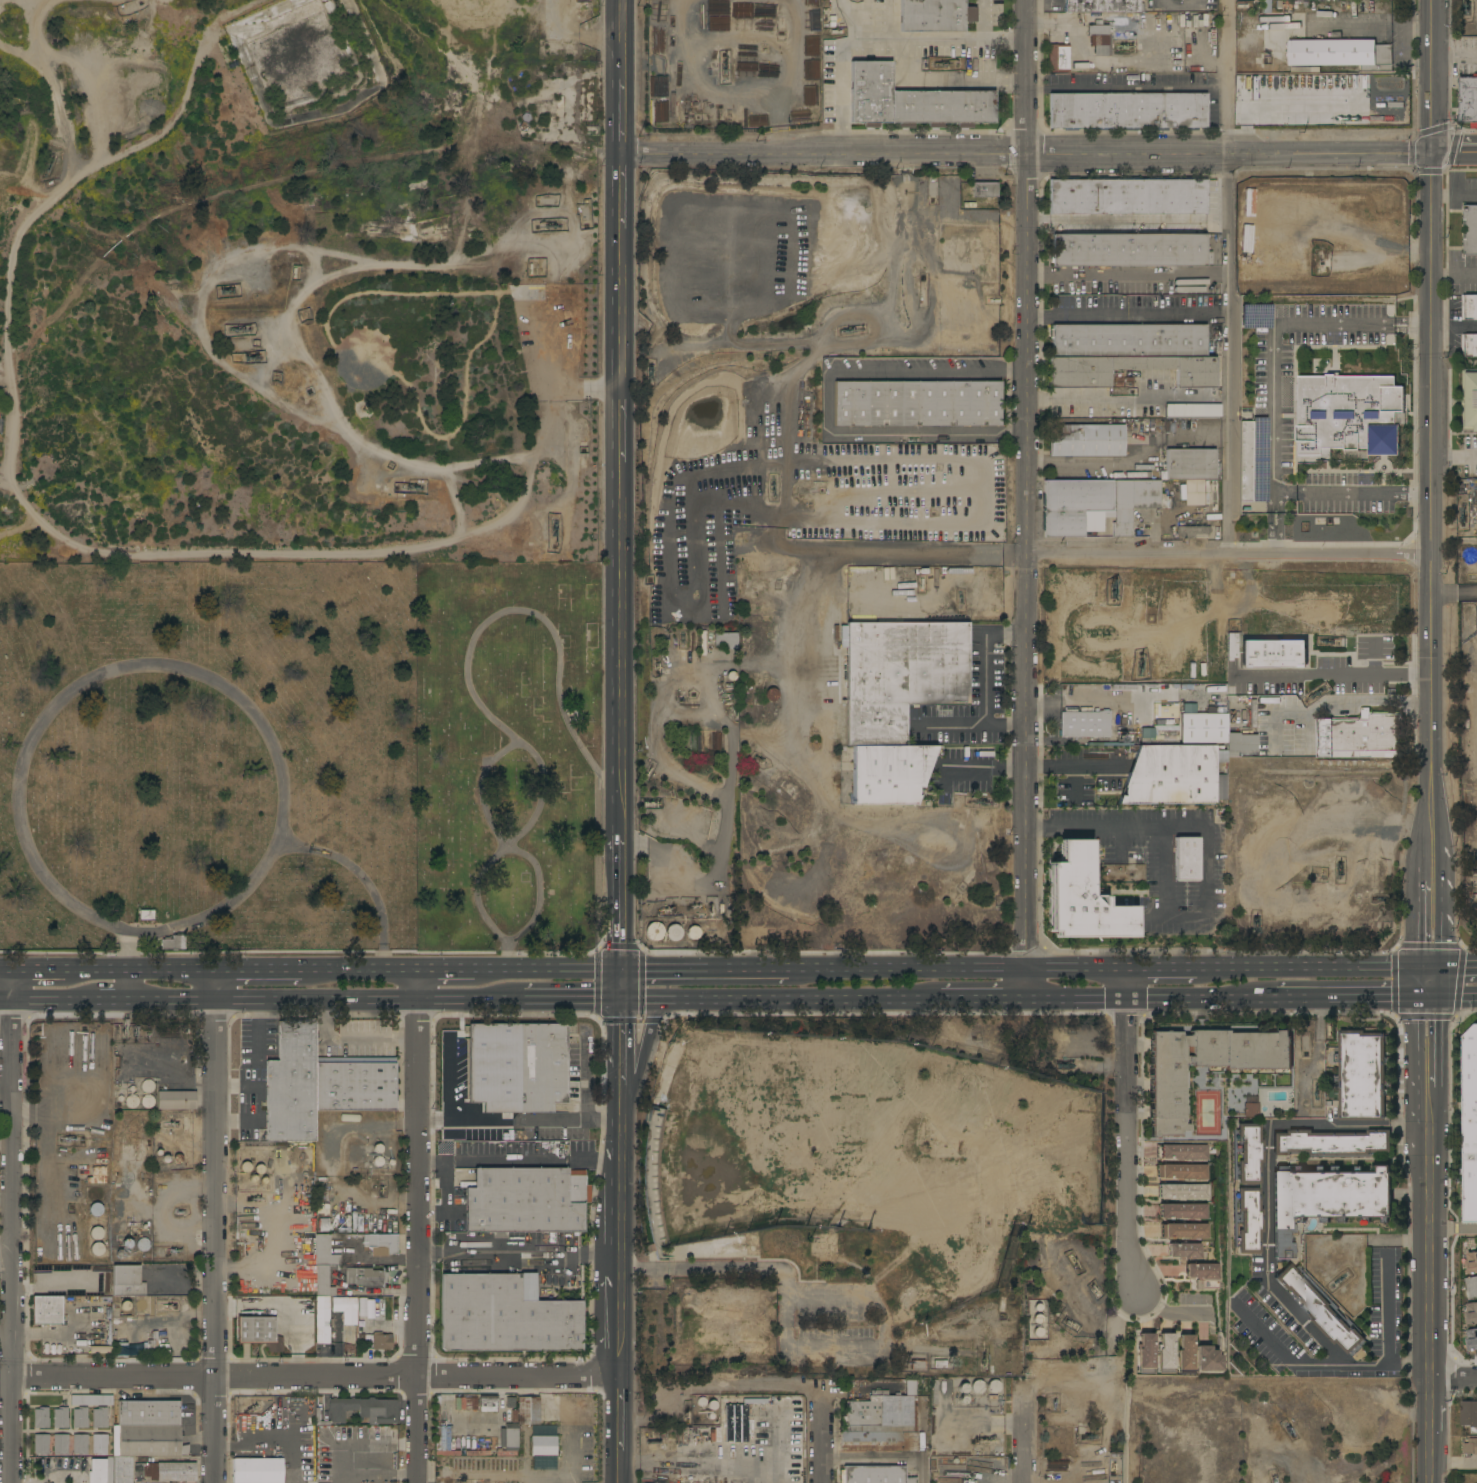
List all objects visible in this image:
building: (1103, 6)
building: (935, 15)
road: (890, 21)
road: (985, 22)
road: (1370, 25)
building: (1099, 38)
road: (624, 39)
road: (939, 42)
petroleum well: (1121, 46)
building: (1340, 54)
road: (1455, 56)
building: (1058, 58)
petroleum well: (723, 61)
petroleum well: (943, 61)
road: (839, 72)
building: (85, 73)
building: (143, 74)
building: (106, 75)
road: (950, 83)
building: (115, 97)
building: (138, 97)
building: (94, 99)
building: (1468, 101)
building: (912, 102)
building: (1128, 111)
road: (624, 118)
traffic signals: (1434, 155)
road: (1455, 155)
road: (1029, 156)
building: (566, 173)
petroleum well: (47, 175)
building: (985, 190)
road: (624, 196)
building: (1128, 196)
petroleum well: (554, 226)
building: (1470, 231)
building: (1128, 250)
road: (1130, 274)
road: (1230, 275)
petroleum well: (227, 290)
building: (1469, 307)
road: (623, 312)
road: (1129, 315)
road: (1413, 324)
road: (1455, 325)
petroleum well: (850, 328)
petroleum well: (239, 336)
parking lot: (543, 339)
building: (1469, 346)
road: (367, 353)
building: (1128, 353)
park: (454, 355)
petroleum well: (250, 358)
road: (1273, 358)
road: (399, 361)
road: (555, 372)
petroleum well: (649, 372)
road: (826, 399)
building: (1470, 399)
building: (917, 404)
building: (1184, 411)
building: (1348, 414)
road: (1433, 422)
road: (622, 426)
building: (1086, 440)
road: (553, 451)
road: (1455, 454)
road: (1125, 460)
building: (1190, 464)
road: (5, 473)
building: (1132, 475)
petroleum well: (772, 487)
road: (1029, 487)
building: (1192, 490)
building: (1213, 493)
road: (1364, 493)
building: (1165, 499)
road: (457, 501)
building: (1241, 501)
building: (1132, 502)
road: (1274, 502)
building: (1075, 507)
petroleum well: (411, 511)
petroleum well: (558, 529)
building: (1193, 531)
road: (1274, 532)
road: (1331, 552)
road: (1129, 553)
park: (3, 585)
petroleum well: (1112, 588)
road: (537, 617)
petroleum well: (681, 639)
building: (719, 640)
building: (730, 641)
road: (620, 642)
building: (747, 644)
building: (1273, 655)
road: (986, 658)
petroleum well: (1142, 664)
road: (171, 667)
parking lot: (987, 667)
road: (1333, 672)
building: (901, 675)
building: (1192, 688)
building: (728, 691)
building: (771, 694)
storage tank: (771, 694)
road: (1351, 702)
road: (783, 722)
building: (1084, 724)
road: (978, 728)
building: (1204, 728)
building: (1172, 731)
road: (731, 734)
building: (1360, 736)
building: (1240, 744)
park: (207, 755)
park: (509, 756)
petroleum well: (757, 758)
road: (1050, 763)
parking lot: (966, 771)
petroleum well: (646, 772)
road: (990, 772)
building: (890, 773)
building: (1172, 775)
petroleum well: (650, 804)
road: (1394, 829)
road: (507, 842)
road: (1204, 846)
road: (496, 856)
building: (1186, 859)
parking lot: (1163, 861)
road: (1430, 862)
petroleum well: (1340, 870)
road: (366, 880)
road: (620, 899)
building: (1082, 899)
petroleum well: (697, 906)
petroleum well: (664, 909)
road: (1430, 912)
petroleum well: (710, 913)
building: (146, 915)
building: (654, 931)
storage tank: (654, 931)
building: (673, 932)
storage tank: (673, 932)
building: (694, 933)
storage tank: (694, 933)
building: (173, 942)
road: (133, 966)
road: (1429, 971)
road: (115, 973)
road: (272, 973)
road: (372, 973)
road: (1453, 973)
road: (6, 974)
road: (464, 974)
road: (565, 974)
road: (1077, 974)
road: (1278, 974)
traffic signals: (1429, 974)
traffic signals: (620, 975)
road: (714, 975)
road: (917, 975)
road: (620, 988)
road: (1026, 988)
road: (1127, 988)
road: (1453, 998)
traffic signals: (1430, 999)
road: (1344, 1000)
road: (462, 1001)
road: (563, 1001)
road: (1076, 1001)
road: (1193, 1001)
road: (54, 1002)
road: (115, 1002)
road: (275, 1002)
traffic signals: (620, 1002)
road: (768, 1002)
road: (971, 1002)
road: (5, 1003)
petroleum well: (135, 1030)
petroleum well: (123, 1031)
petroleum well: (146, 1031)
road: (354, 1038)
road: (620, 1044)
road: (642, 1044)
petroleum well: (1064, 1066)
building: (515, 1068)
road: (583, 1074)
road: (47, 1076)
building: (1361, 1076)
road: (256, 1079)
road: (448, 1080)
road: (237, 1084)
building: (319, 1084)
building: (148, 1085)
storage tank: (148, 1085)
petroleum well: (1316, 1089)
building: (1166, 1098)
building: (176, 1100)
building: (132, 1101)
storage tank: (132, 1101)
building: (147, 1101)
storage tank: (147, 1101)
building: (1251, 1110)
building: (349, 1118)
road: (518, 1118)
road: (351, 1121)
petroleum well: (171, 1124)
road: (1412, 1125)
building: (1470, 1125)
road: (1268, 1130)
petroleum well: (69, 1138)
building: (1330, 1143)
building: (652, 1147)
road: (1127, 1148)
building: (1183, 1153)
road: (49, 1160)
building: (1182, 1173)
building: (97, 1175)
road: (619, 1177)
building: (1246, 1188)
petroleum well: (380, 1190)
building: (95, 1193)
storage tank: (95, 1193)
building: (1185, 1193)
petroleum well: (256, 1199)
building: (1328, 1199)
building: (526, 1200)
building: (96, 1210)
storage tank: (96, 1210)
petroleum well: (179, 1211)
building: (1183, 1211)
road: (12, 1228)
road: (216, 1228)
road: (418, 1228)
road: (1454, 1229)
building: (1184, 1231)
building: (96, 1233)
storage tank: (96, 1233)
road: (1431, 1241)
building: (383, 1242)
building: (127, 1244)
storage tank: (127, 1244)
building: (143, 1244)
storage tank: (143, 1244)
building: (821, 1244)
building: (97, 1248)
storage tank: (97, 1248)
petroleum well: (172, 1251)
building: (1184, 1251)
building: (325, 1252)
road: (518, 1252)
petroleum well: (1074, 1261)
building: (1471, 1261)
road: (375, 1262)
building: (1202, 1271)
building: (365, 1277)
building: (324, 1280)
building: (127, 1281)
petroleum well: (1338, 1282)
building: (307, 1283)
road: (56, 1285)
building: (1471, 1287)
building: (529, 1289)
petroleum well: (1096, 1289)
petroleum well: (165, 1306)
building: (1319, 1308)
building: (346, 1309)
building: (47, 1310)
building: (1471, 1312)
building: (504, 1318)
building: (322, 1320)
road: (619, 1321)
petroleum well: (1071, 1323)
building: (256, 1332)
road: (1388, 1334)
building: (1471, 1339)
building: (381, 1343)
building: (151, 1345)
building: (120, 1350)
building: (1145, 1353)
building: (1165, 1353)
building: (1186, 1356)
road: (1338, 1358)
building: (1209, 1361)
road: (1396, 1364)
building: (917, 1365)
road: (1417, 1365)
road: (315, 1375)
road: (1454, 1380)
road: (720, 1387)
building: (976, 1387)
storage tank: (976, 1387)
building: (993, 1387)
storage tank: (993, 1387)
building: (934, 1392)
building: (879, 1393)
building: (91, 1401)
building: (459, 1403)
building: (488, 1403)
petroleum well: (1054, 1403)
building: (471, 1404)
building: (363, 1410)
building: (530, 1410)
building: (881, 1412)
building: (148, 1413)
building: (317, 1414)
building: (1469, 1414)
petroleum well: (685, 1416)
building: (60, 1417)
building: (99, 1417)
building: (41, 1418)
building: (80, 1418)
road: (619, 1421)
road: (295, 1426)
building: (764, 1428)
petroleum well: (1288, 1430)
road: (348, 1433)
road: (1128, 1436)
building: (878, 1438)
building: (147, 1441)
building: (540, 1441)
petroleum well: (984, 1441)
building: (443, 1442)
building: (508, 1442)
building: (60, 1444)
building: (80, 1444)
building: (99, 1444)
road: (824, 1444)
building: (41, 1445)
building: (1470, 1448)
road: (1027, 1450)
building: (477, 1453)
road: (874, 1459)
building: (544, 1463)
petroleum well: (1112, 1466)
building: (121, 1470)
building: (138, 1470)
building: (258, 1470)
building: (97, 1471)
road: (924, 1471)
building: (170, 1472)
road: (379, 1474)
building: (874, 1474)
road: (619, 1475)
road: (480, 1476)
road: (336, 1478)

